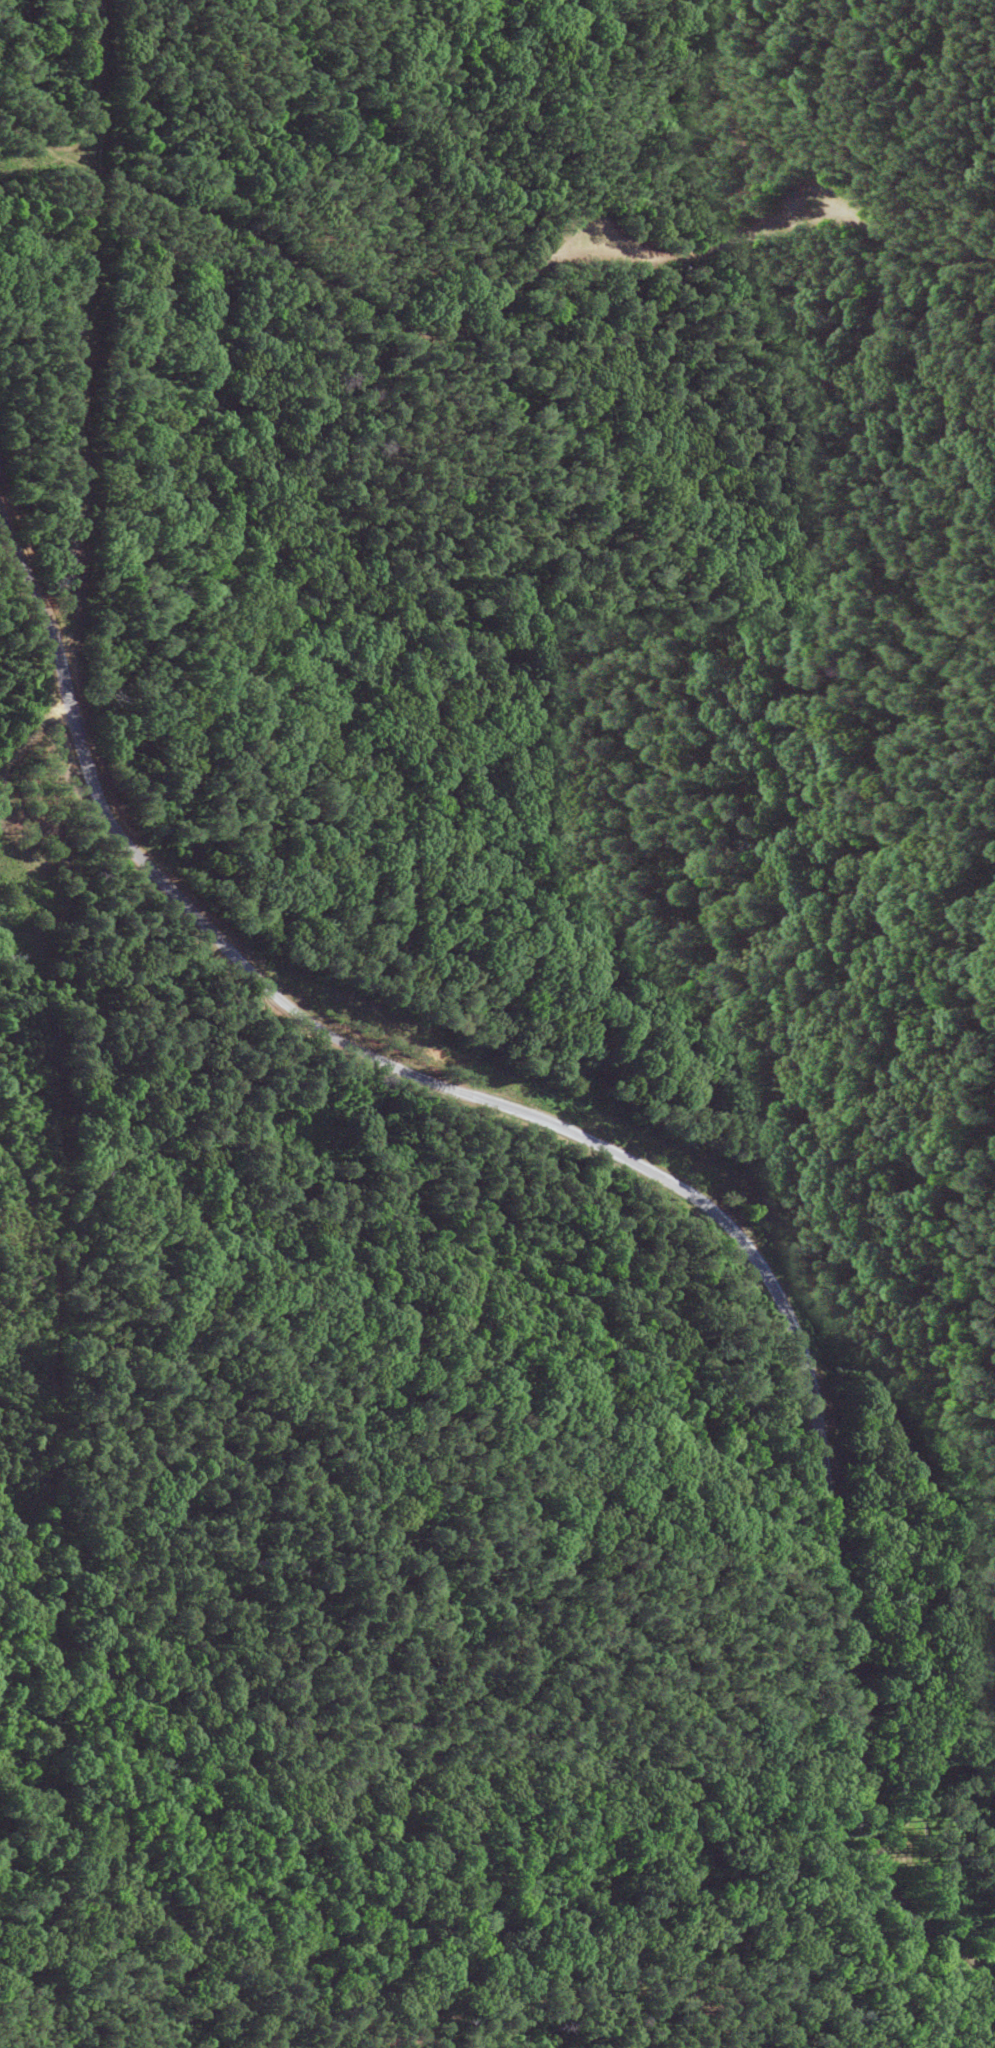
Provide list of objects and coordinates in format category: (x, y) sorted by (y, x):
road: (149, 122)
road: (635, 1163)

